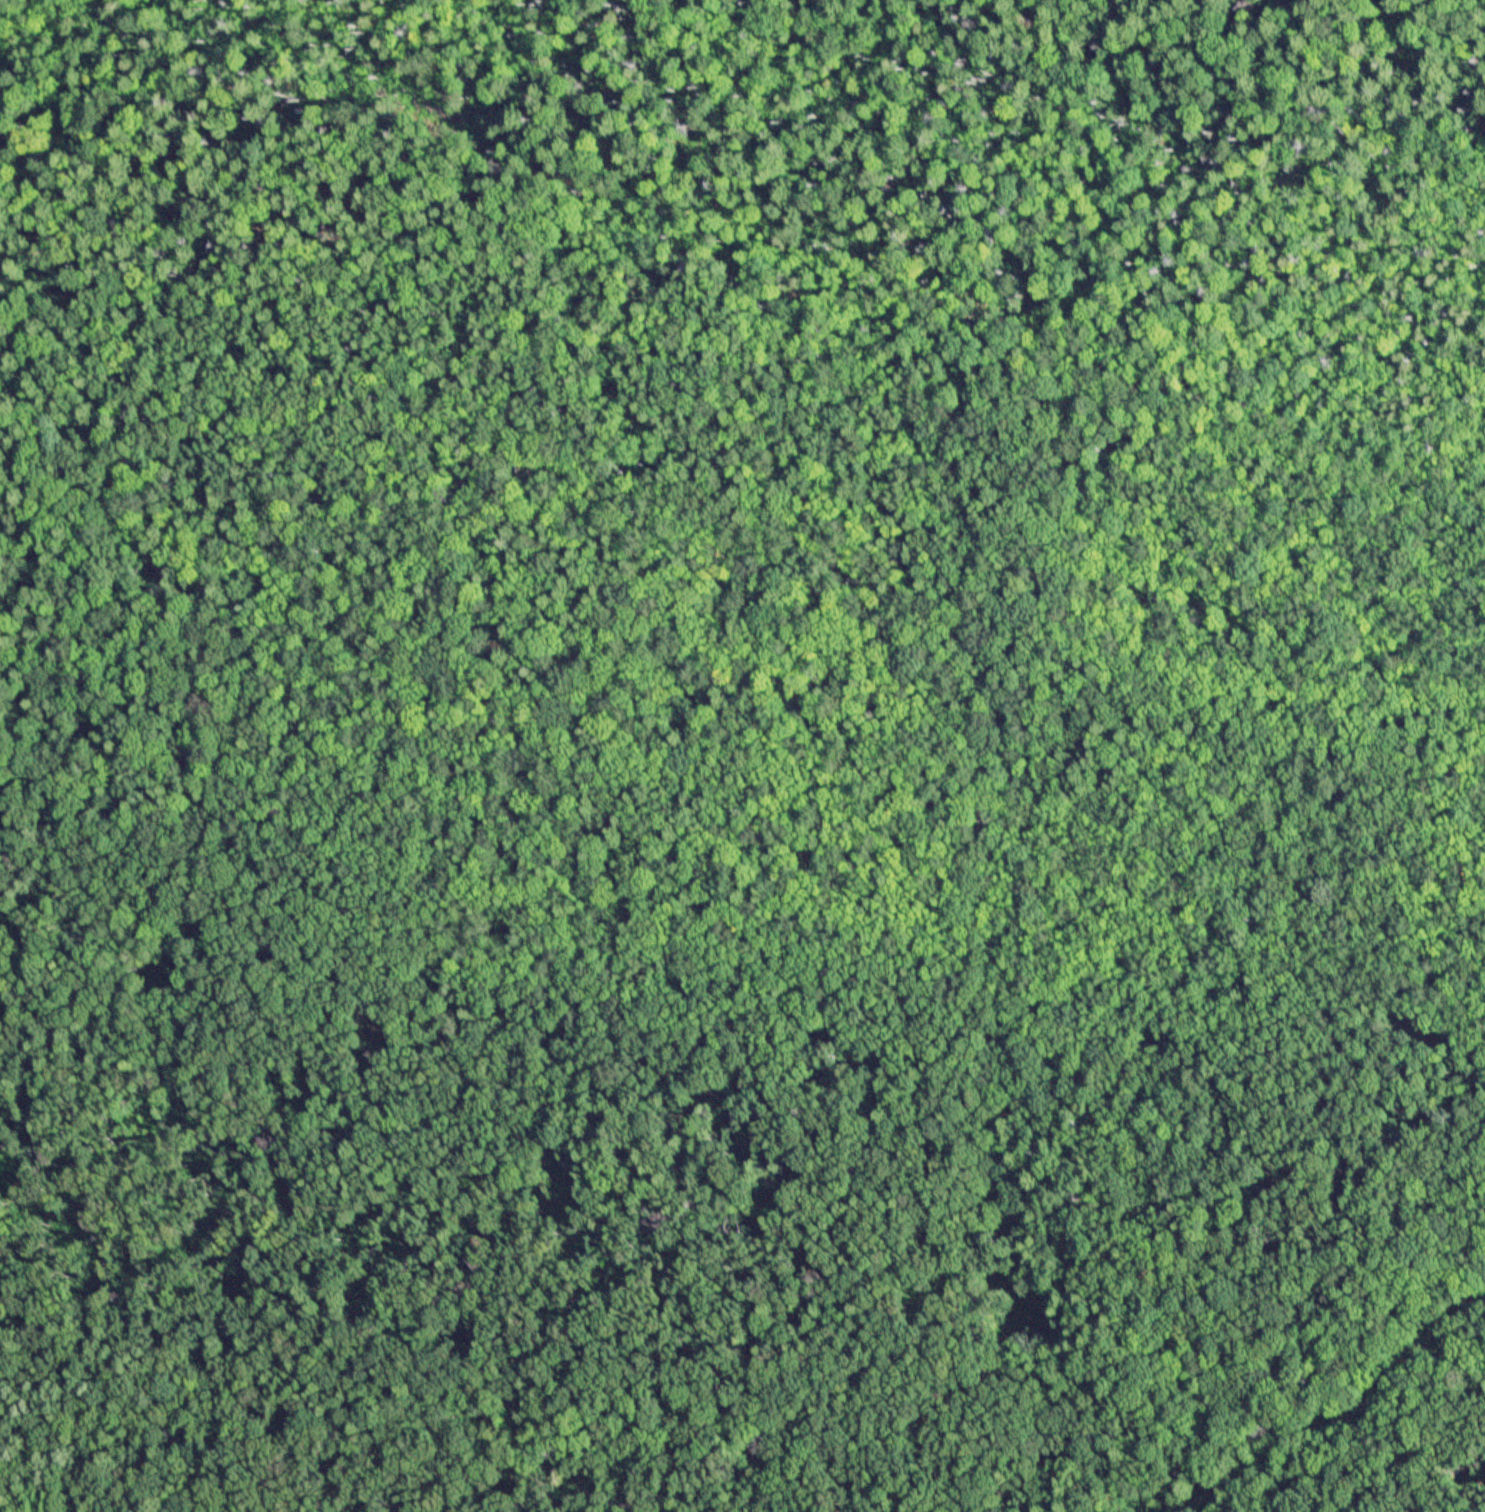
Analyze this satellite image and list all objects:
road: (1268, 37)
road: (1373, 123)

